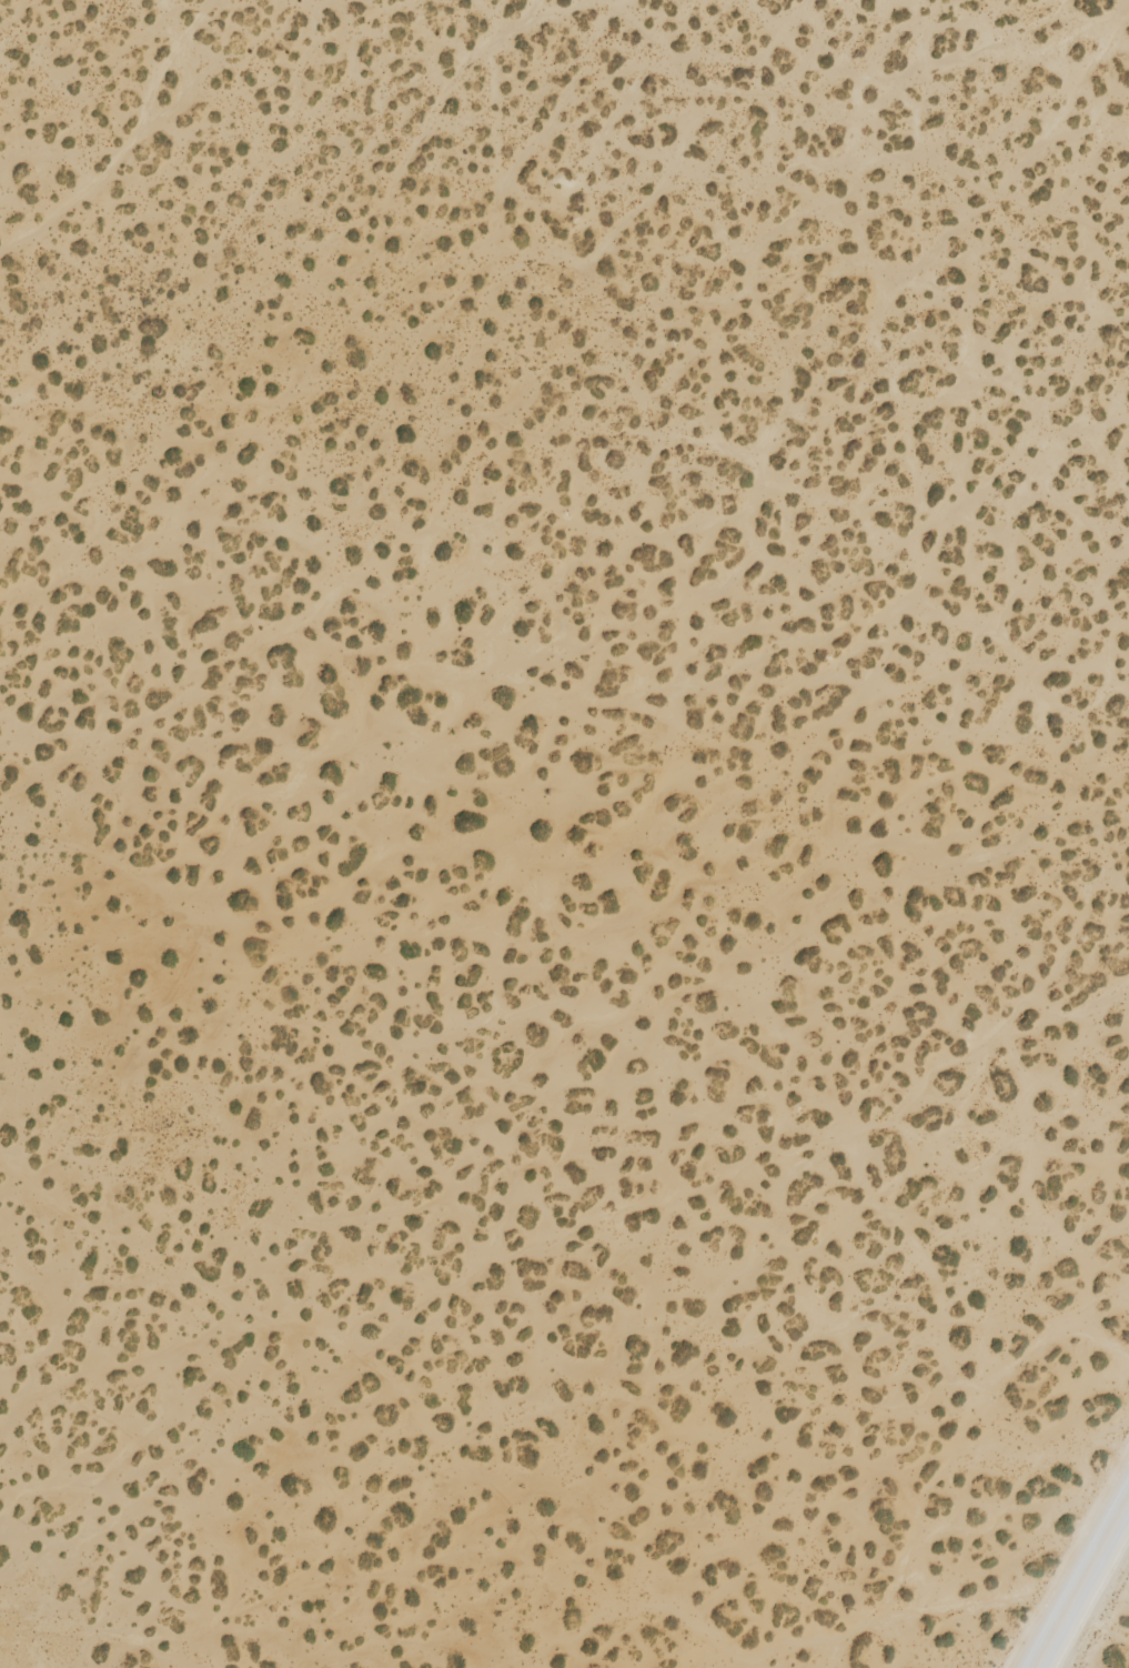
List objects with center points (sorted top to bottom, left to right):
road: (1080, 1580)

